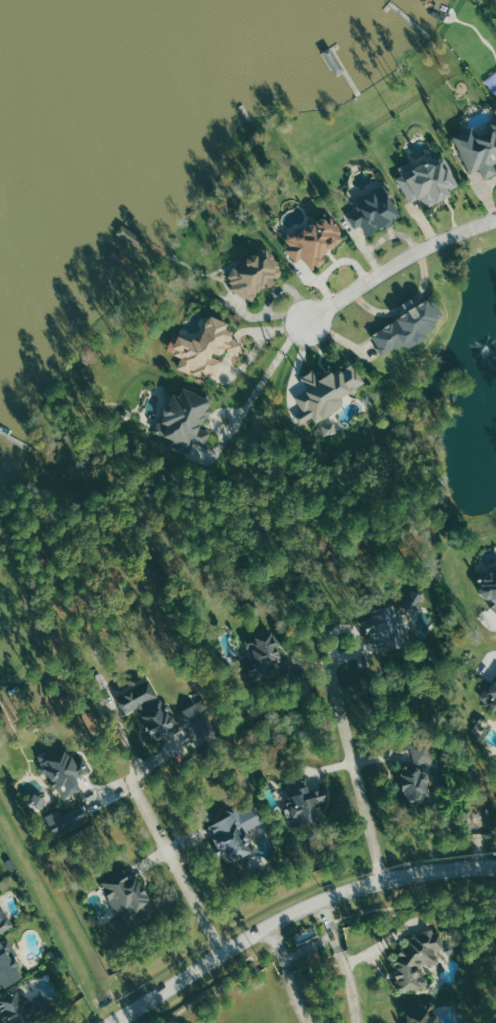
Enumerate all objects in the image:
building: (479, 148)
building: (429, 180)
building: (374, 211)
building: (314, 241)
road: (400, 264)
building: (255, 274)
road: (408, 305)
building: (407, 327)
building: (205, 348)
road: (268, 372)
building: (327, 392)
building: (186, 419)
building: (490, 588)
building: (393, 623)
building: (266, 657)
building: (491, 696)
building: (167, 715)
building: (424, 752)
building: (63, 771)
road: (356, 775)
building: (415, 784)
building: (307, 805)
building: (68, 821)
building: (234, 833)
road: (177, 867)
building: (0, 871)
building: (125, 894)
road: (294, 914)
building: (4, 920)
road: (331, 925)
road: (307, 946)
road: (278, 949)
building: (416, 960)
building: (9, 966)
road: (348, 986)
road: (296, 998)
building: (21, 1007)
building: (423, 1014)

